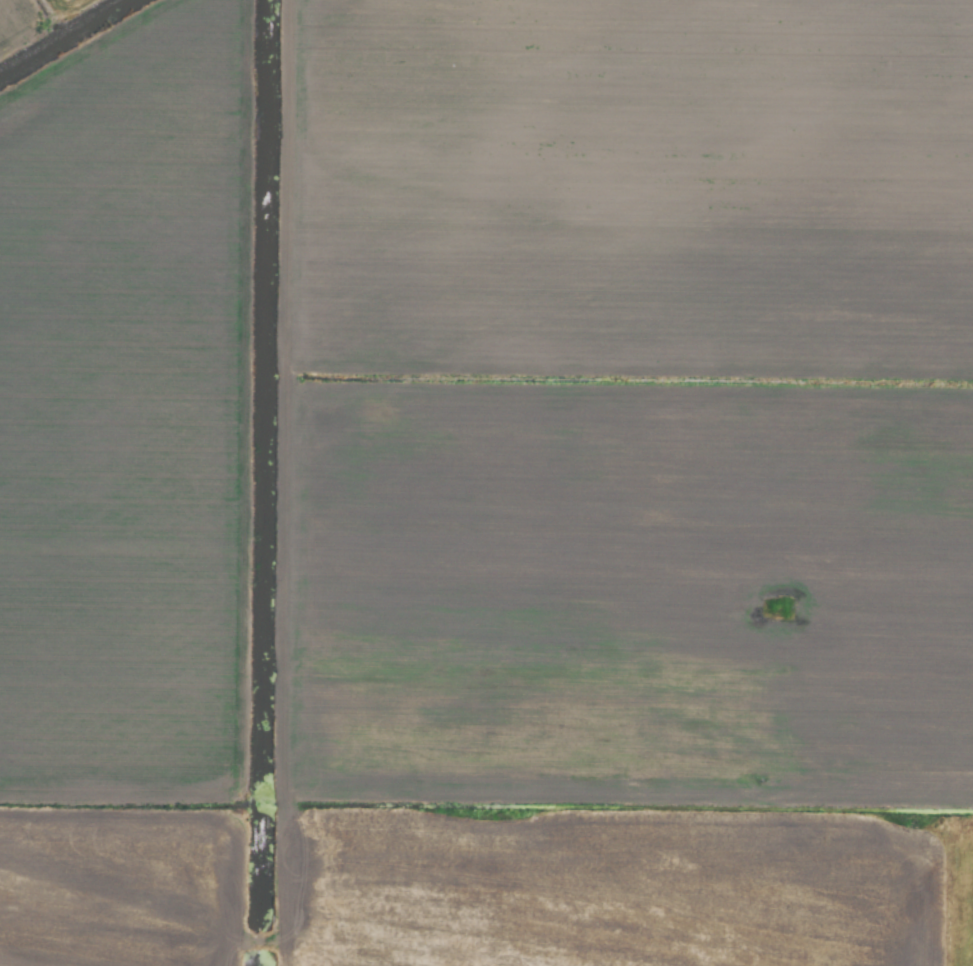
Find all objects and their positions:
crop: (486, 483)

